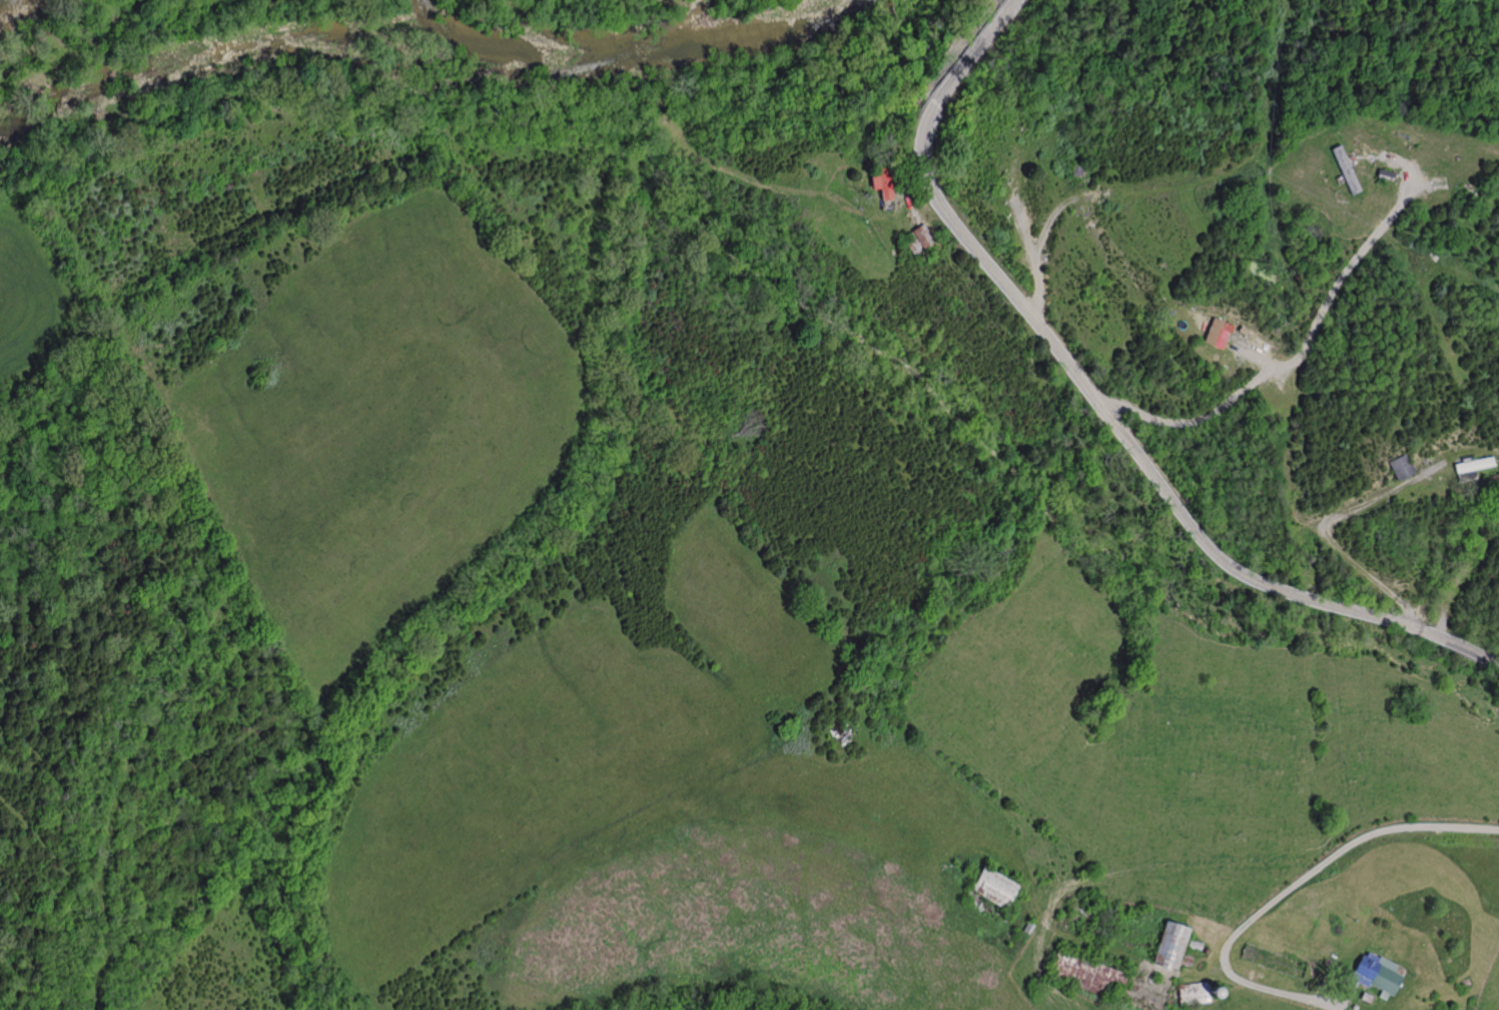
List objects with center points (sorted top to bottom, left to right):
building: (1076, 169)
building: (1345, 170)
building: (1383, 173)
road: (903, 179)
building: (880, 182)
road: (1027, 229)
building: (917, 241)
road: (1037, 250)
building: (1242, 330)
building: (1216, 332)
road: (1255, 355)
road: (1299, 358)
road: (1101, 404)
building: (1471, 463)
building: (1401, 467)
building: (1492, 478)
road: (1322, 528)
road: (1462, 581)
building: (995, 889)
road: (1287, 889)
building: (1192, 945)
building: (1170, 947)
building: (1088, 975)
building: (1375, 975)
building: (1192, 993)
building: (1364, 998)
building: (1352, 1007)

